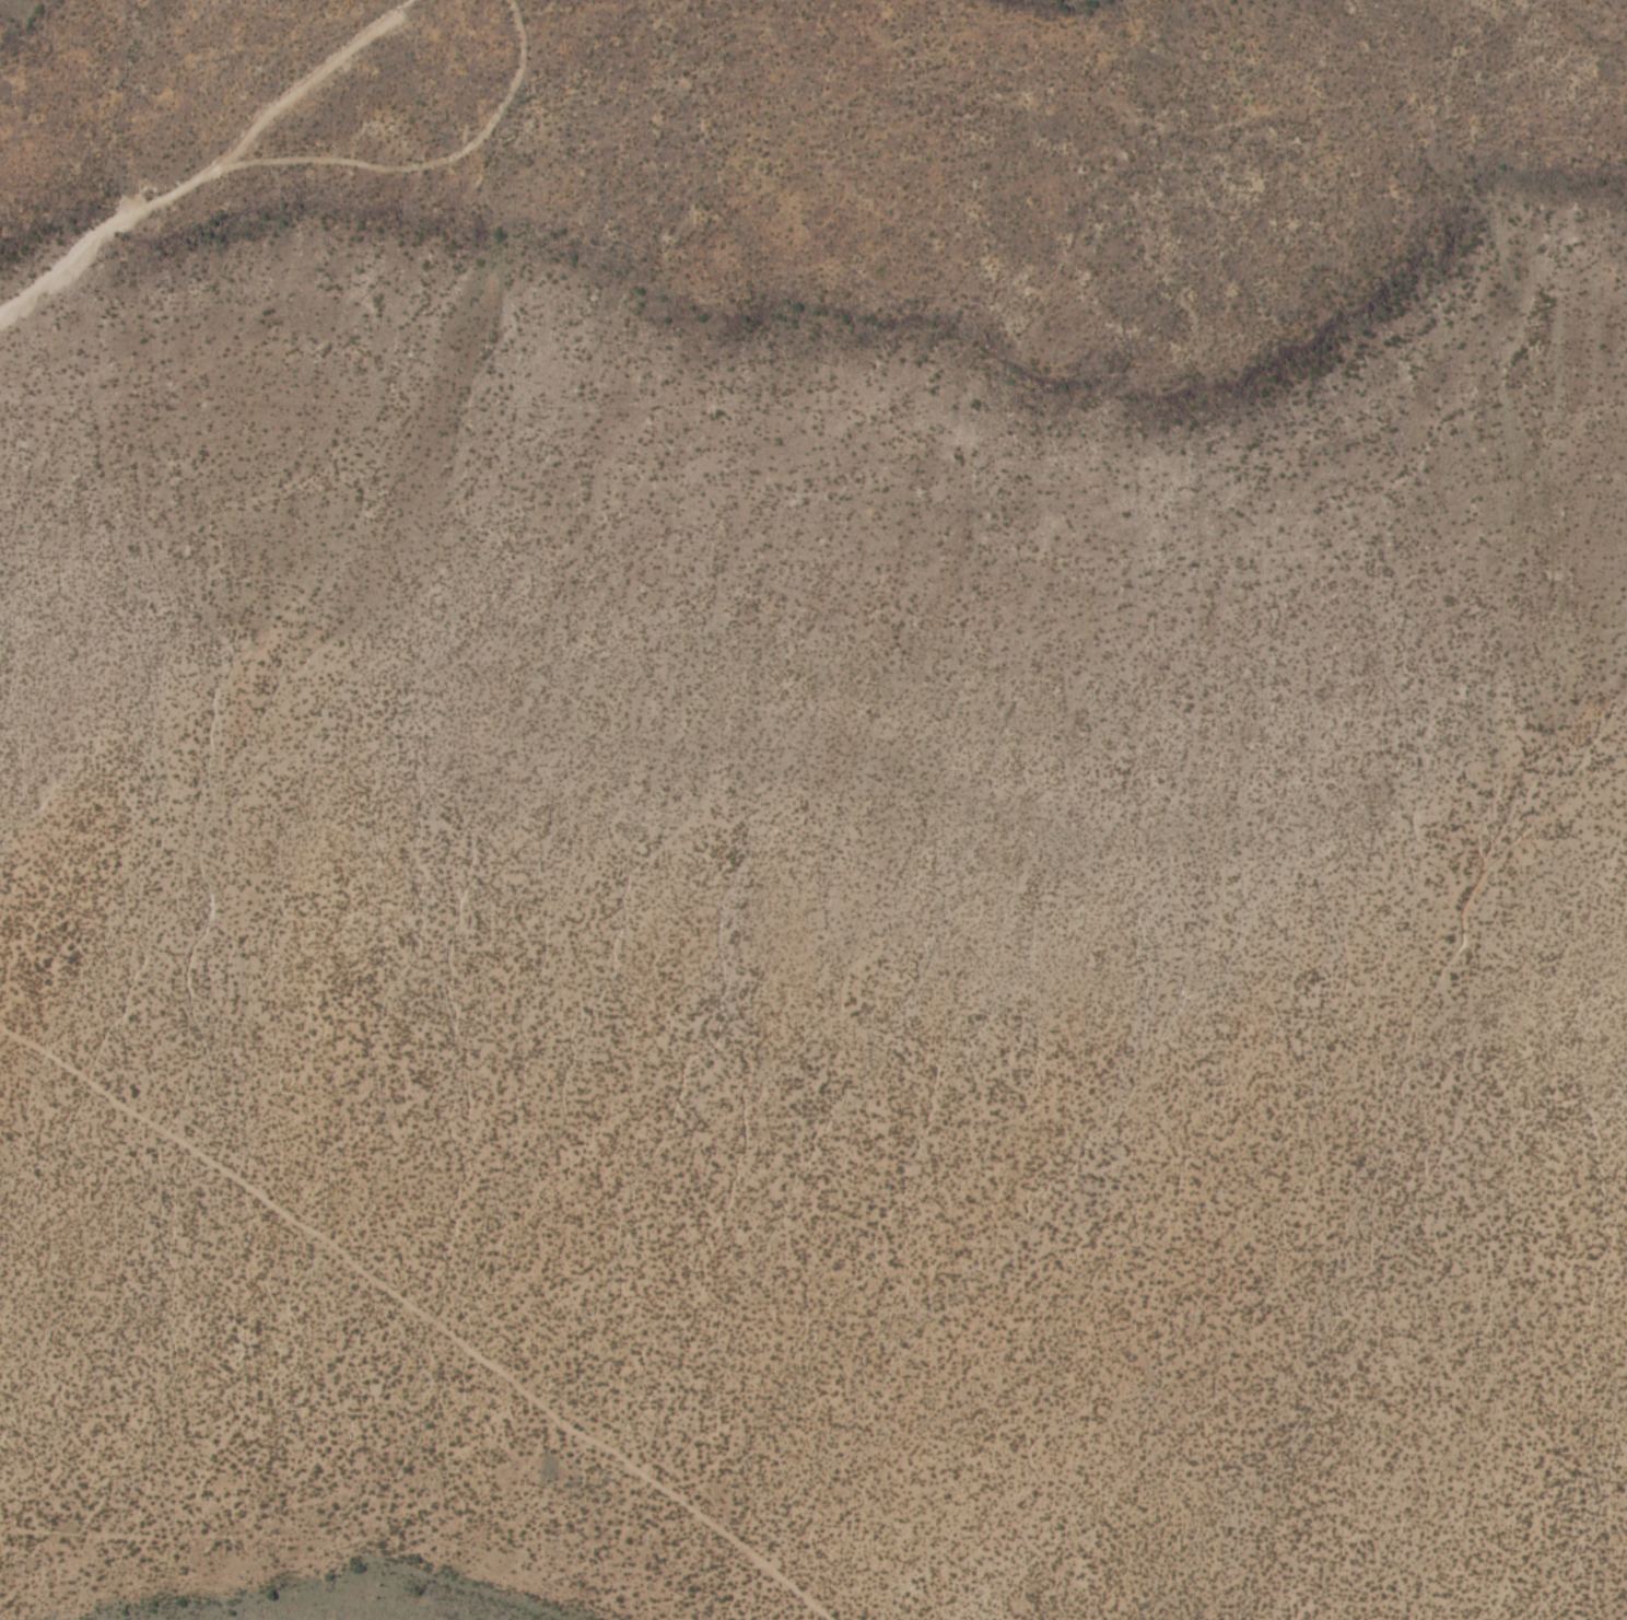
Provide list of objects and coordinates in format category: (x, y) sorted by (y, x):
road: (284, 150)

